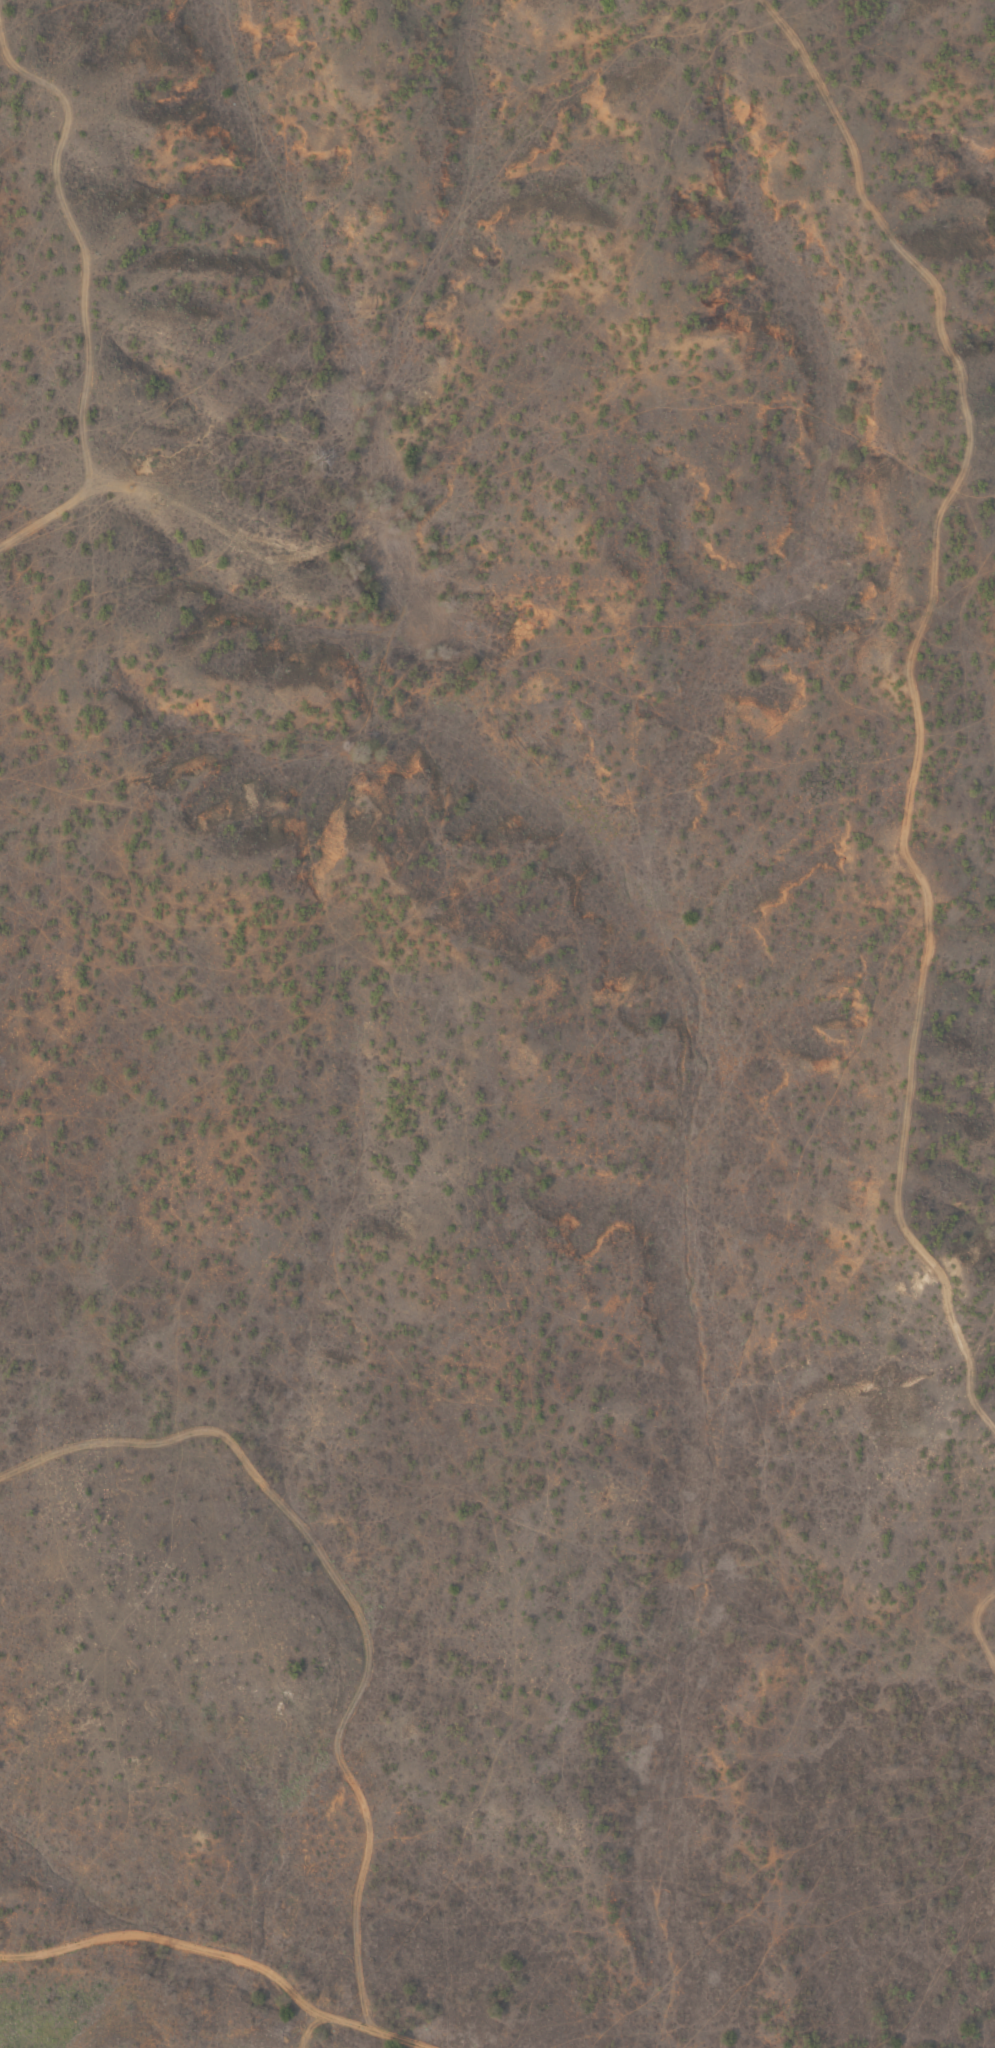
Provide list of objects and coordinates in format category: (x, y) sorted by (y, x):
road: (229, 1981)

